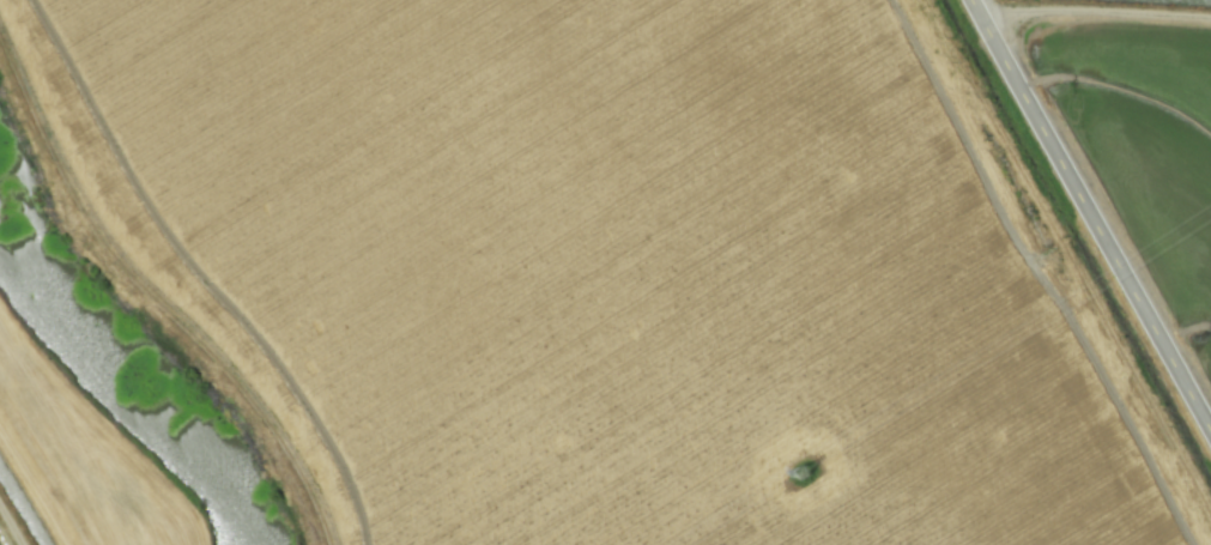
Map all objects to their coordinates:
road: (1100, 10)
road: (1095, 208)
crop: (605, 272)
power tower: (811, 478)

